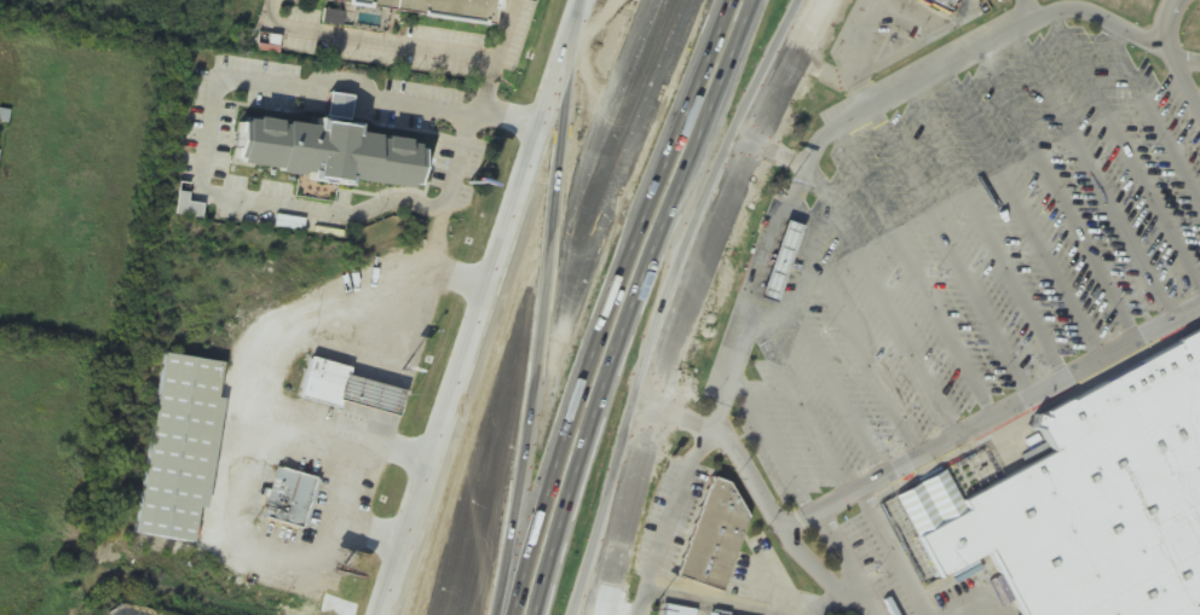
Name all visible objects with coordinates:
building: (944, 4)
building: (431, 14)
road: (1185, 63)
road: (570, 71)
road: (1178, 76)
road: (489, 88)
road: (1154, 111)
road: (869, 116)
road: (1126, 152)
road: (779, 156)
building: (342, 167)
road: (1095, 180)
road: (1061, 197)
road: (1027, 215)
road: (987, 236)
road: (951, 255)
building: (777, 262)
road: (698, 269)
road: (917, 273)
road: (553, 302)
road: (601, 302)
road: (881, 303)
road: (484, 307)
road: (853, 336)
building: (345, 389)
road: (731, 445)
road: (935, 447)
building: (177, 448)
building: (1092, 497)
building: (287, 499)
building: (711, 535)
road: (599, 582)
road: (600, 582)
building: (674, 611)

